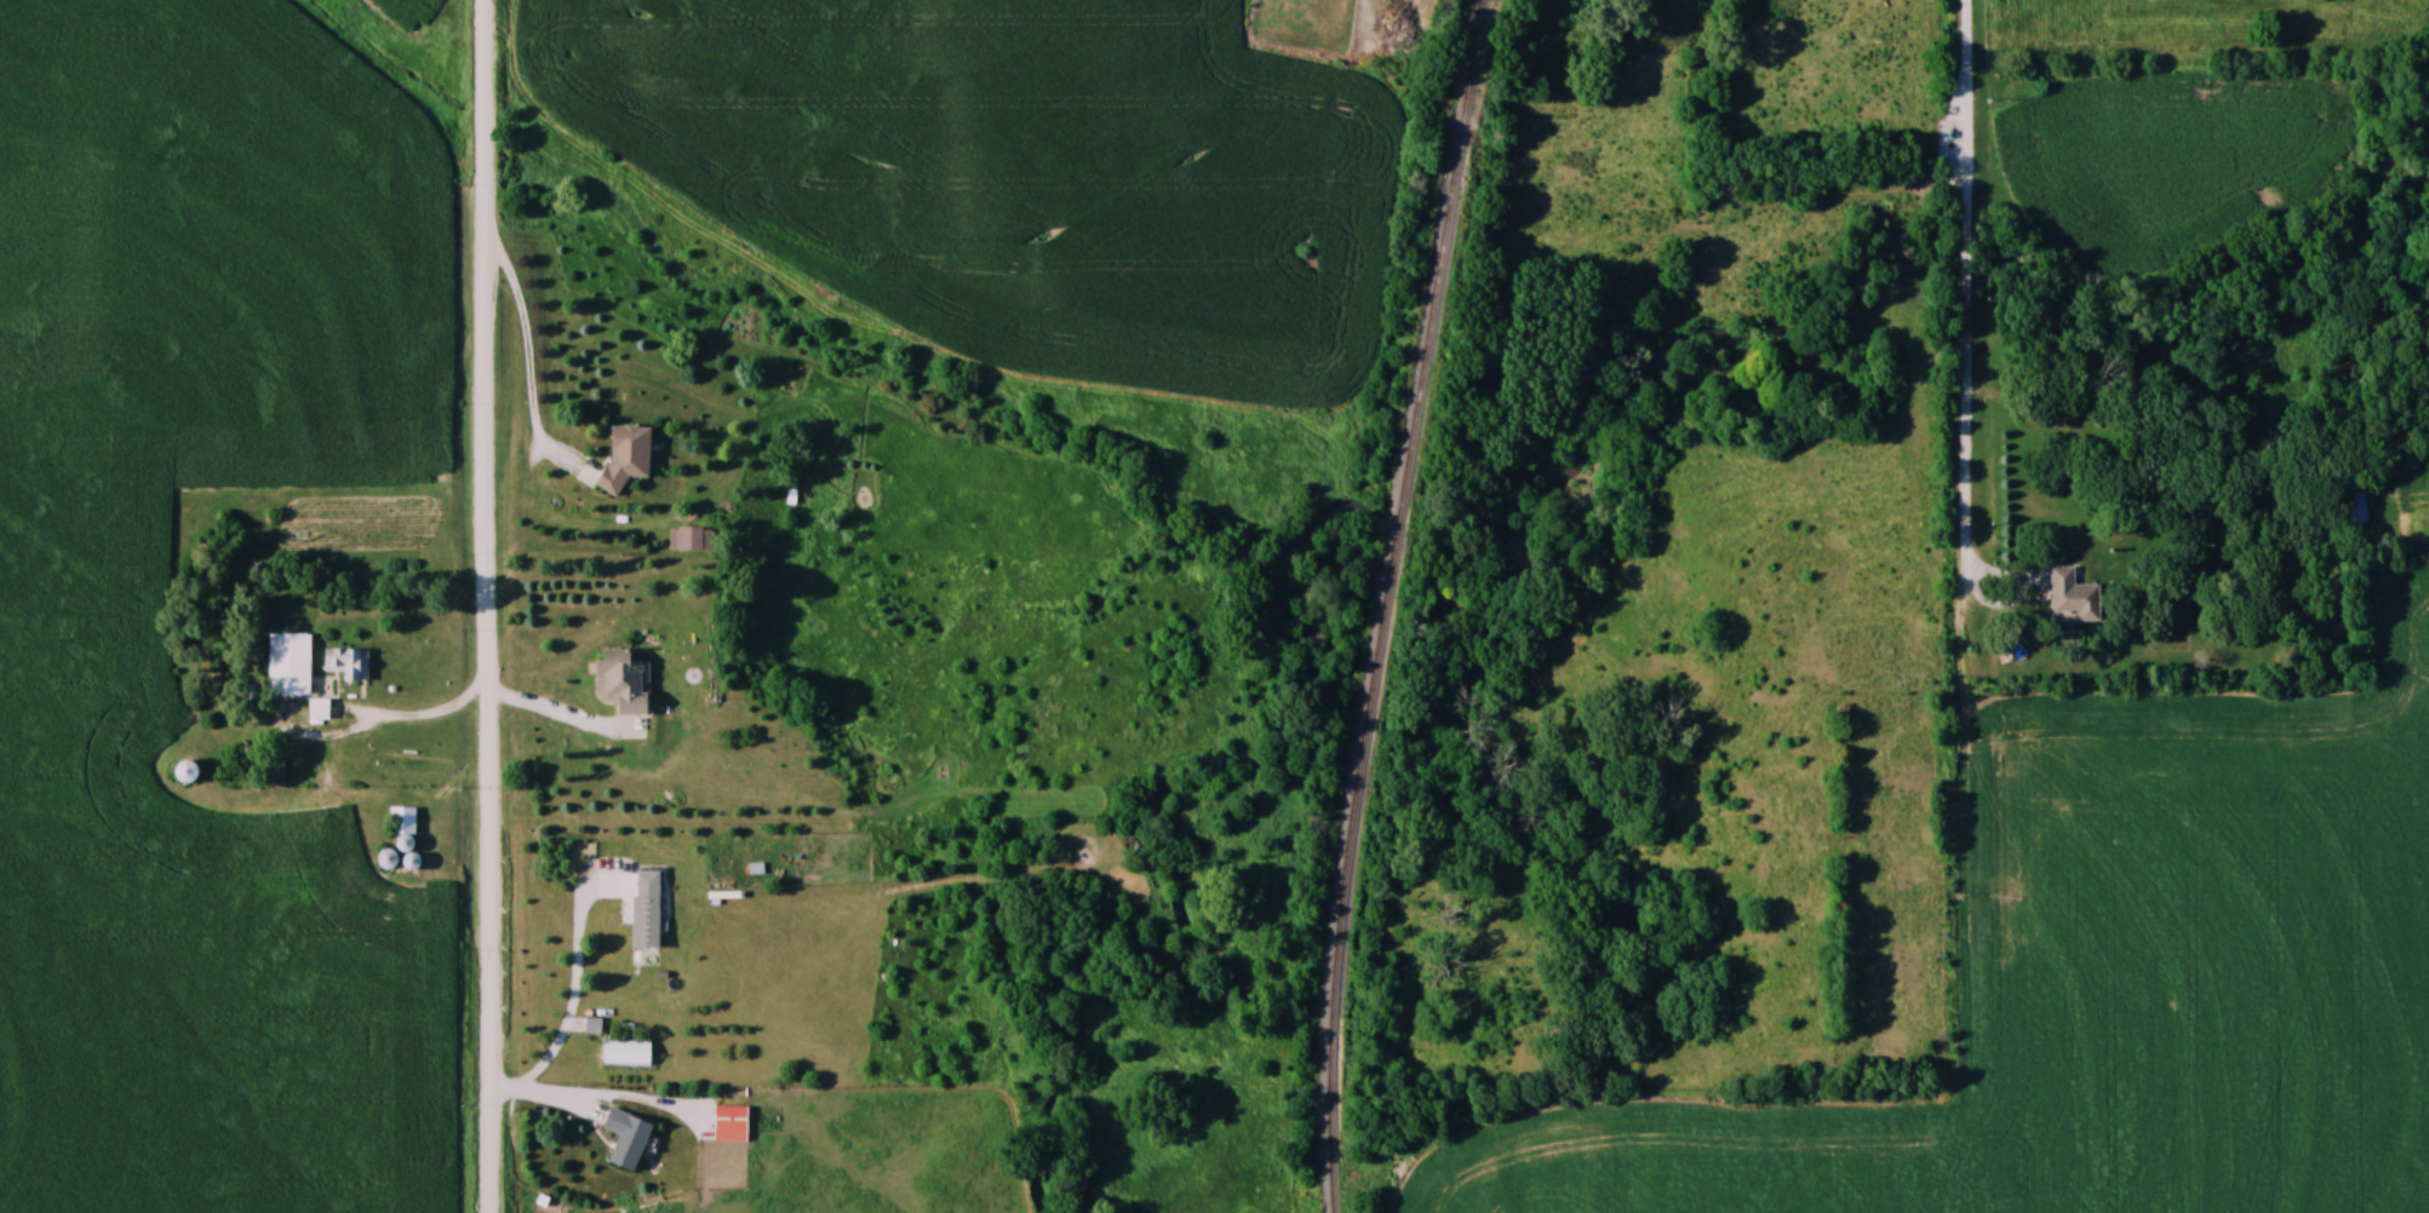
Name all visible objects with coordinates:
road: (1971, 63)
road: (1967, 358)
building: (625, 455)
building: (2354, 504)
building: (689, 539)
building: (2072, 598)
railway: (1394, 604)
road: (491, 605)
building: (345, 663)
building: (288, 667)
building: (621, 682)
building: (317, 709)
road: (382, 729)
building: (184, 772)
building: (403, 835)
building: (385, 861)
building: (750, 870)
building: (304, 883)
building: (645, 910)
building: (405, 924)
road: (572, 990)
building: (729, 1125)
building: (625, 1138)

